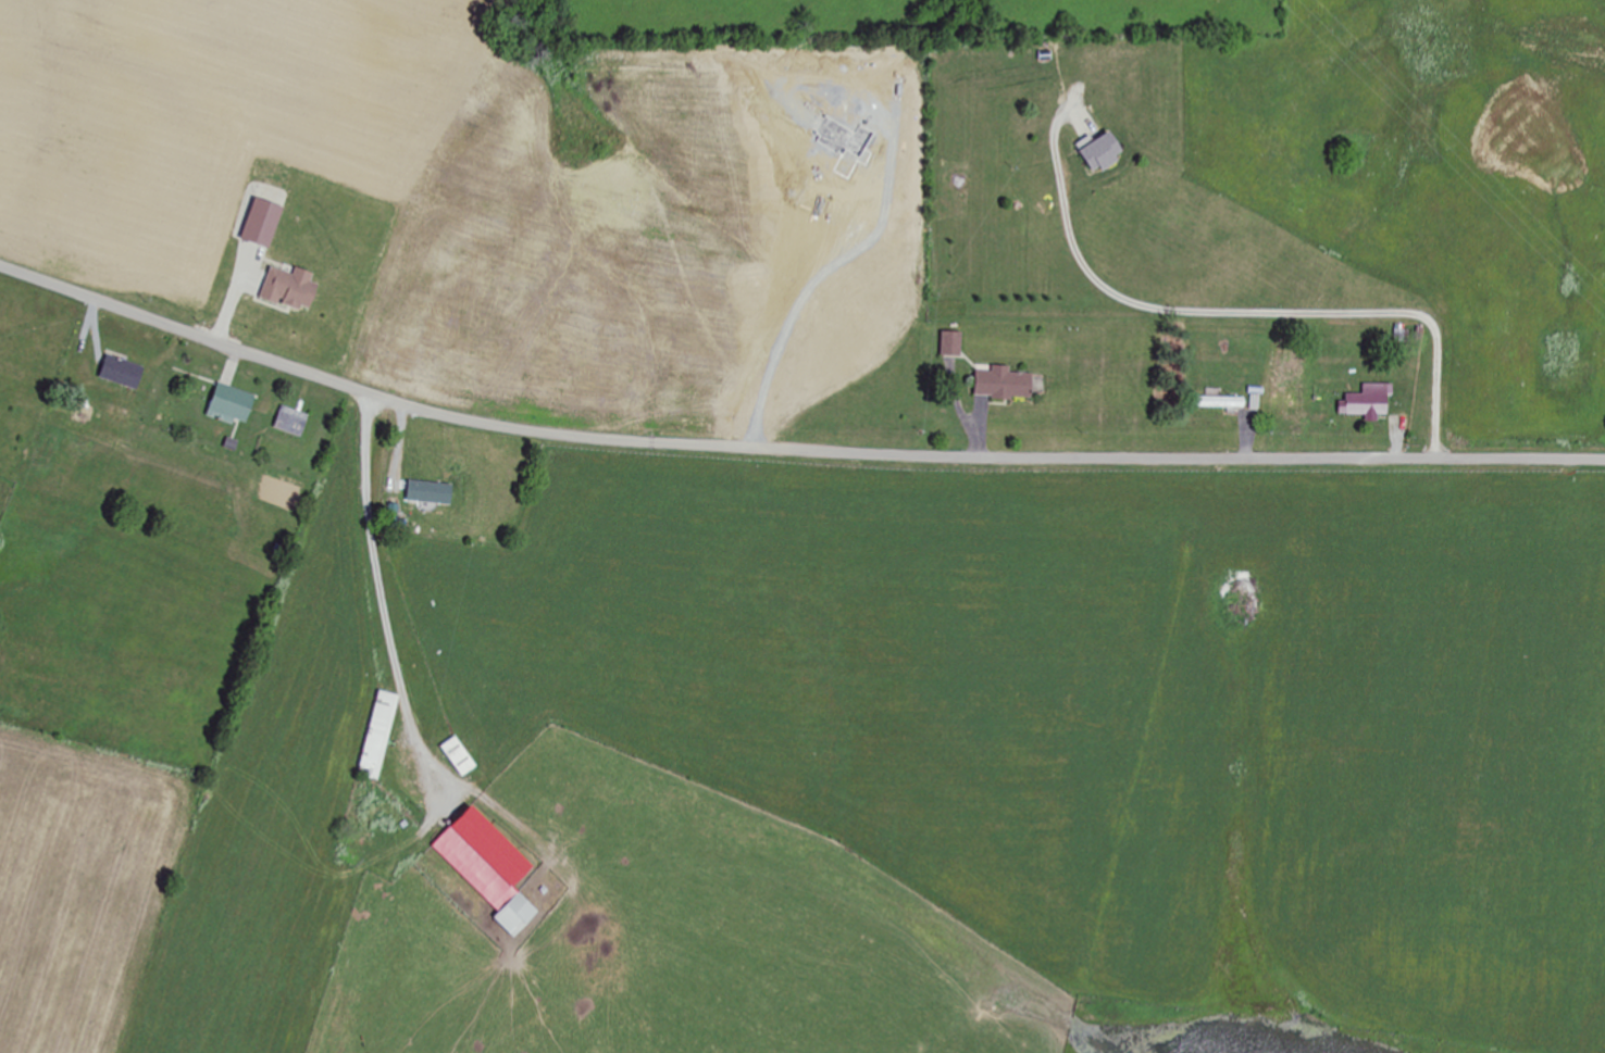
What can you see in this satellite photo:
building: (1106, 153)
building: (955, 344)
building: (125, 373)
building: (1007, 385)
building: (1223, 402)
building: (1371, 403)
building: (235, 404)
building: (294, 422)
road: (788, 451)
road: (345, 598)
building: (383, 735)
building: (462, 754)
building: (493, 865)

